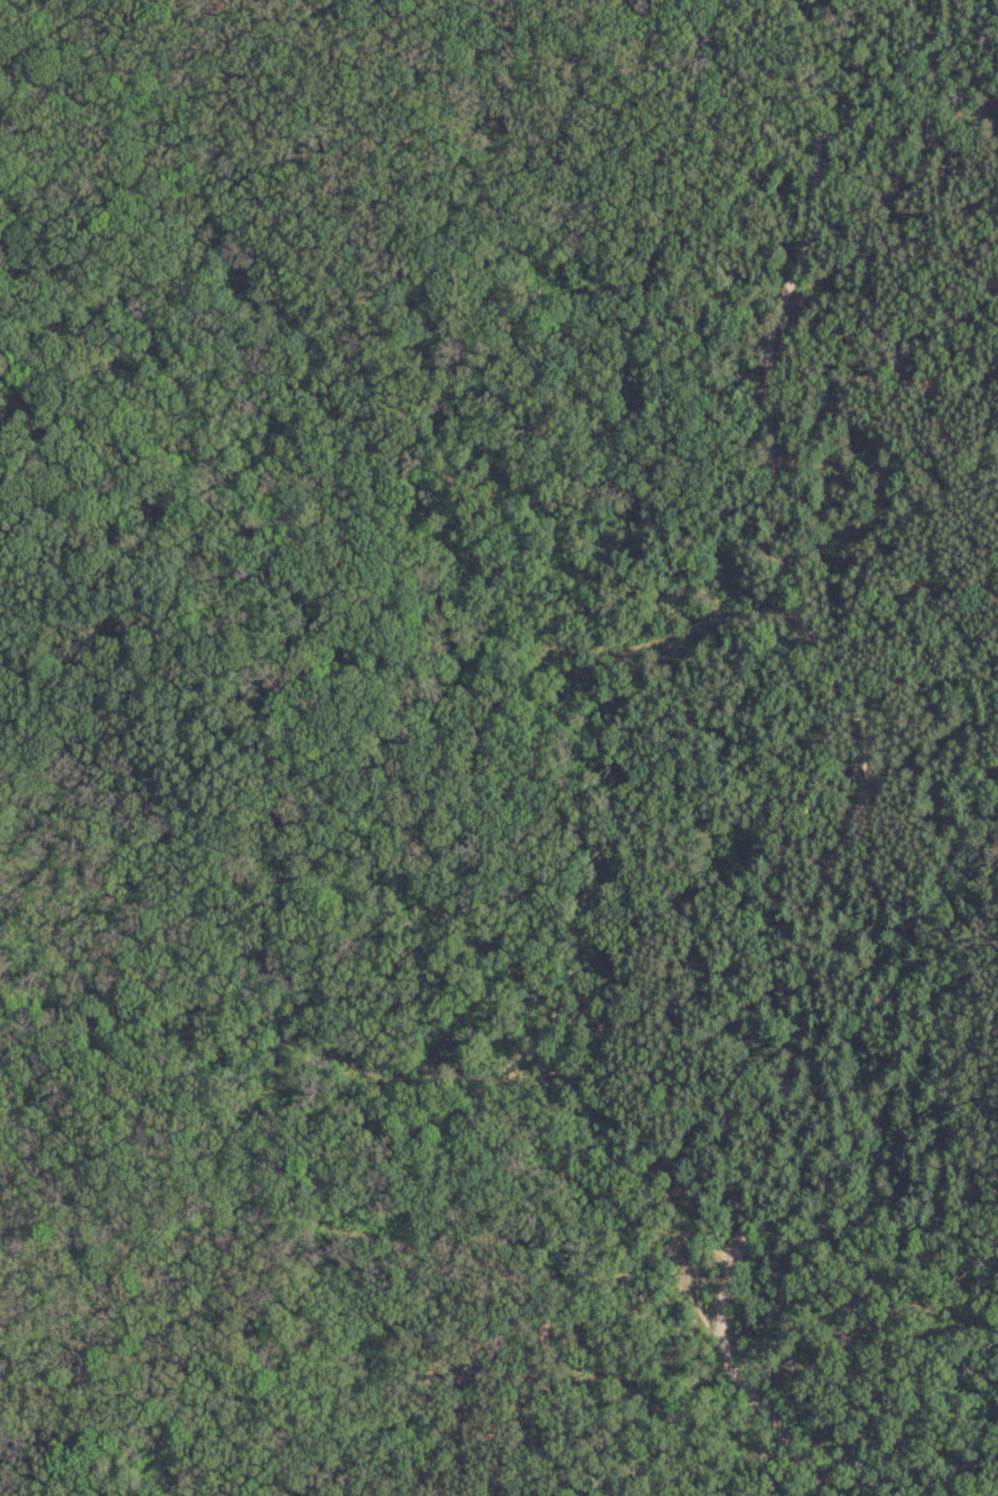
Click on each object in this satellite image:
road: (855, 761)
road: (553, 801)
road: (403, 855)

